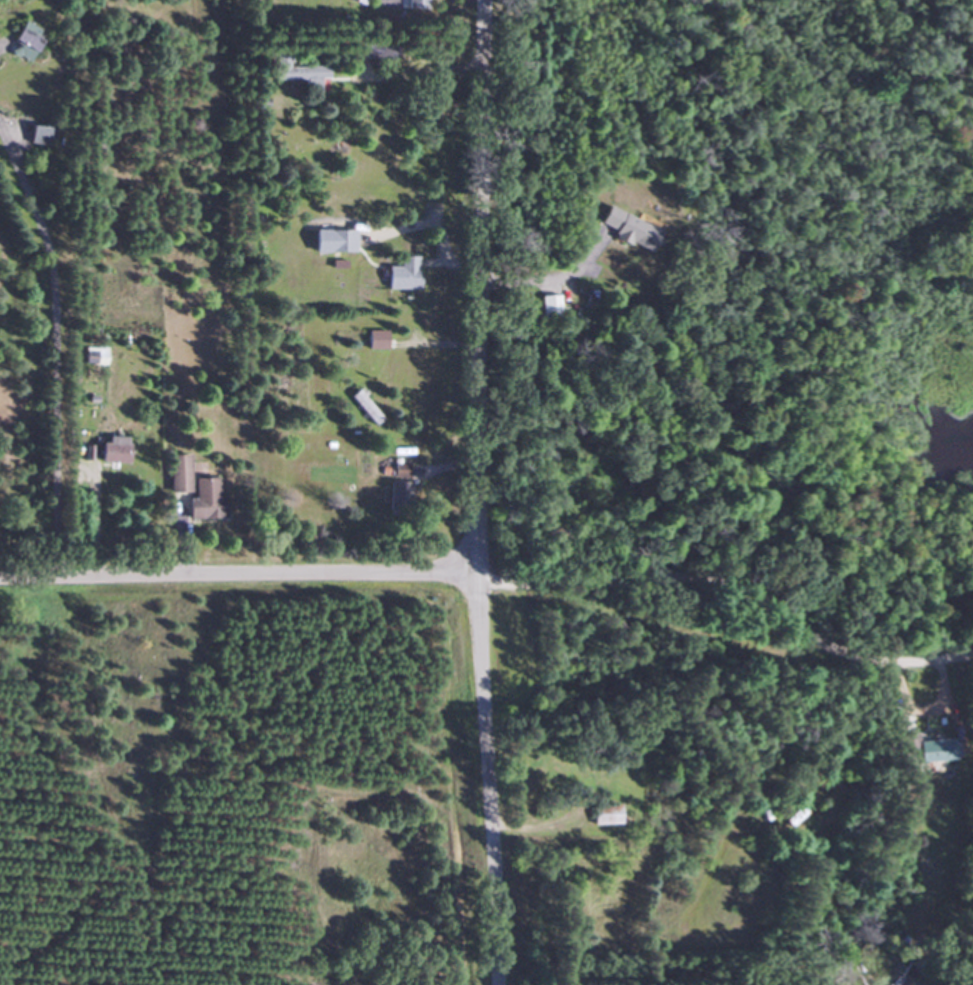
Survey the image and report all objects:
building: (354, 1)
building: (412, 4)
building: (20, 41)
building: (295, 75)
road: (415, 79)
building: (35, 135)
building: (623, 229)
building: (330, 242)
building: (399, 275)
road: (542, 278)
building: (547, 307)
building: (373, 340)
road: (60, 346)
building: (91, 356)
building: (362, 407)
building: (109, 449)
building: (193, 490)
road: (474, 492)
building: (396, 498)
road: (238, 574)
road: (723, 637)
building: (925, 746)
building: (603, 815)

